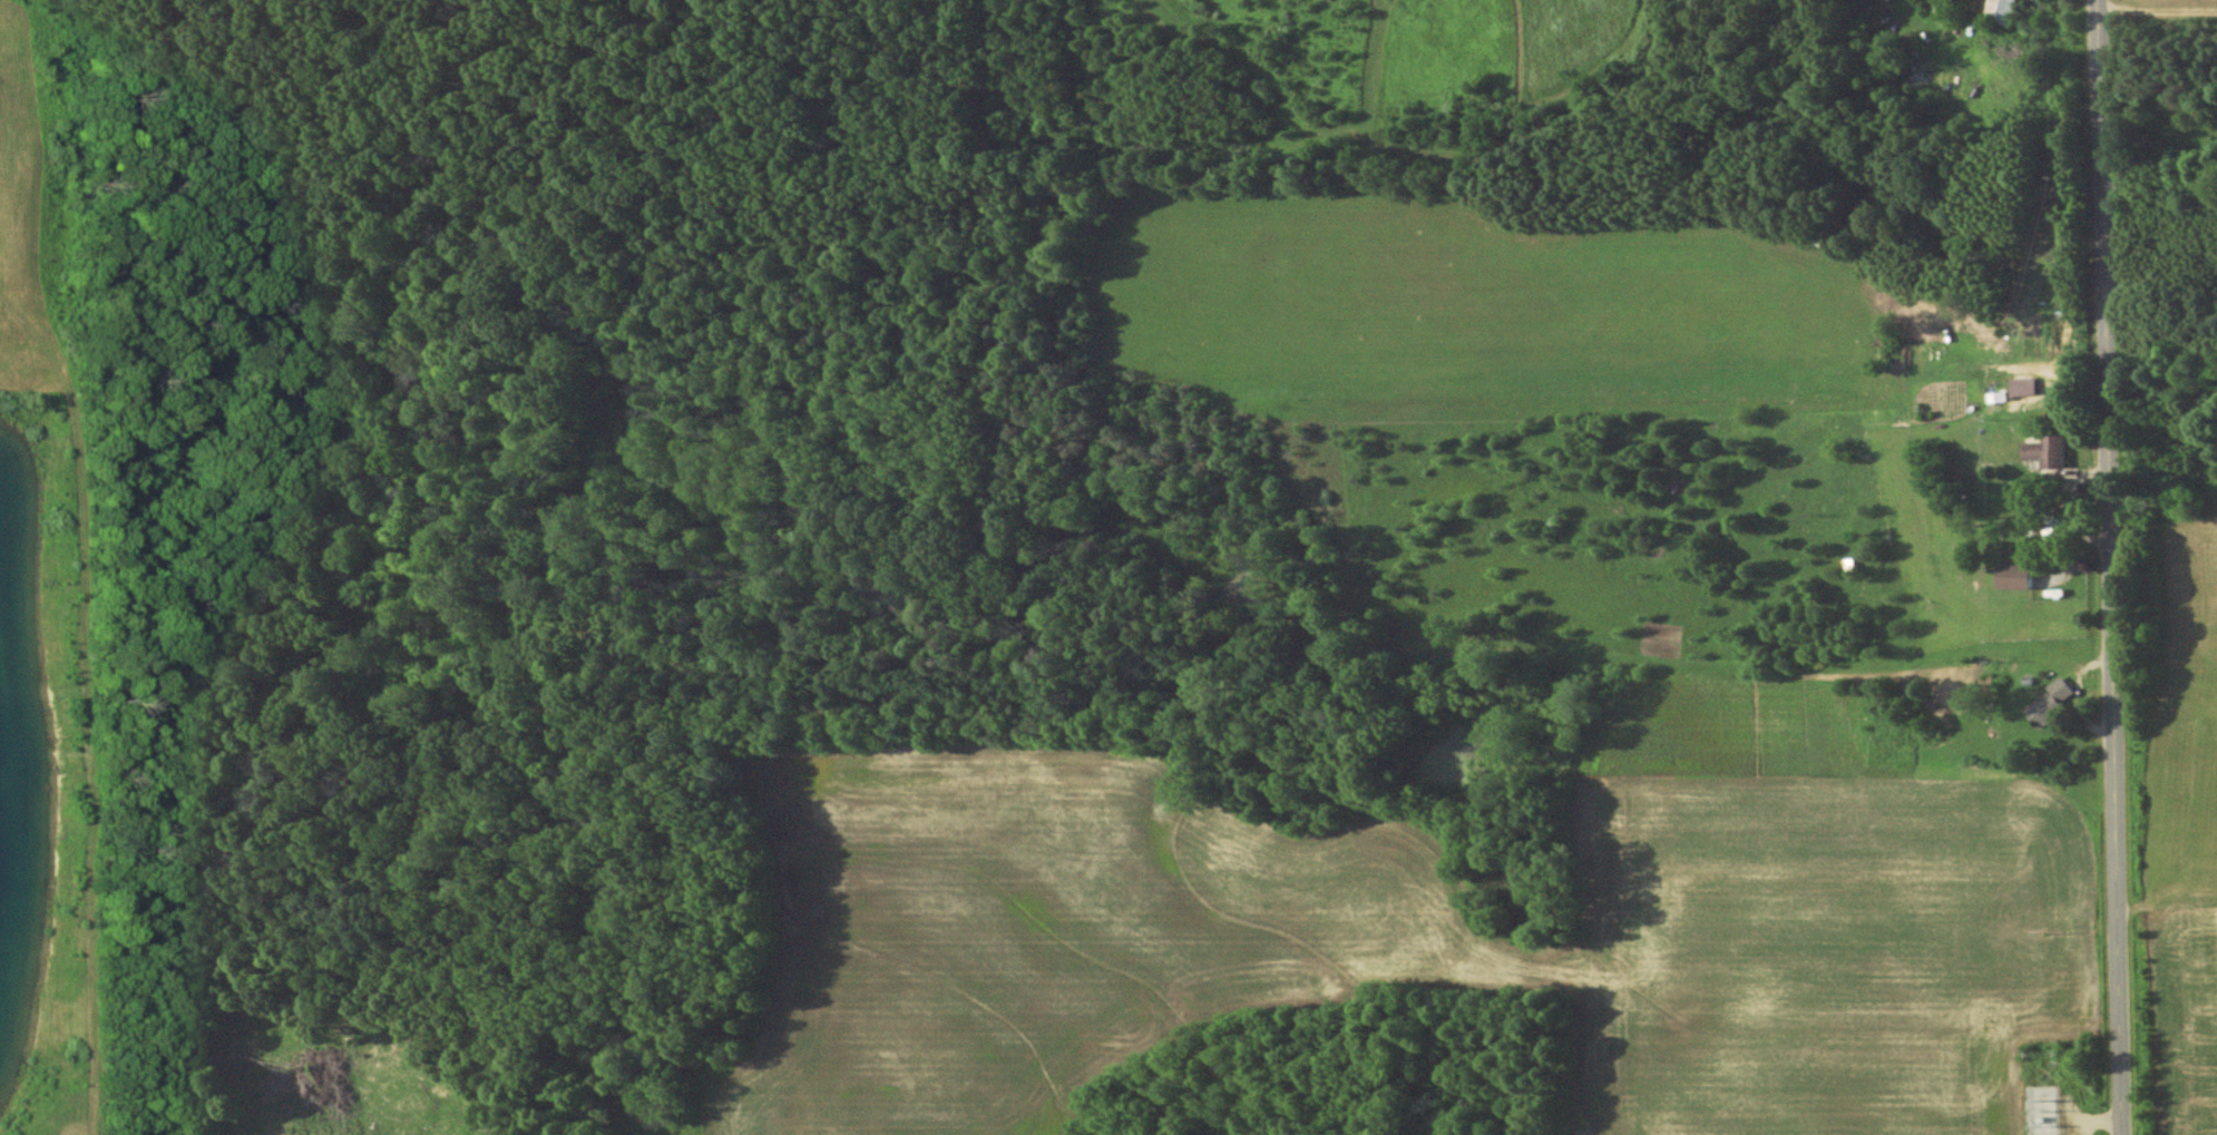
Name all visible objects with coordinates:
building: (2003, 9)
building: (2024, 385)
building: (2050, 451)
road: (2109, 567)
building: (2019, 575)
building: (2050, 703)

